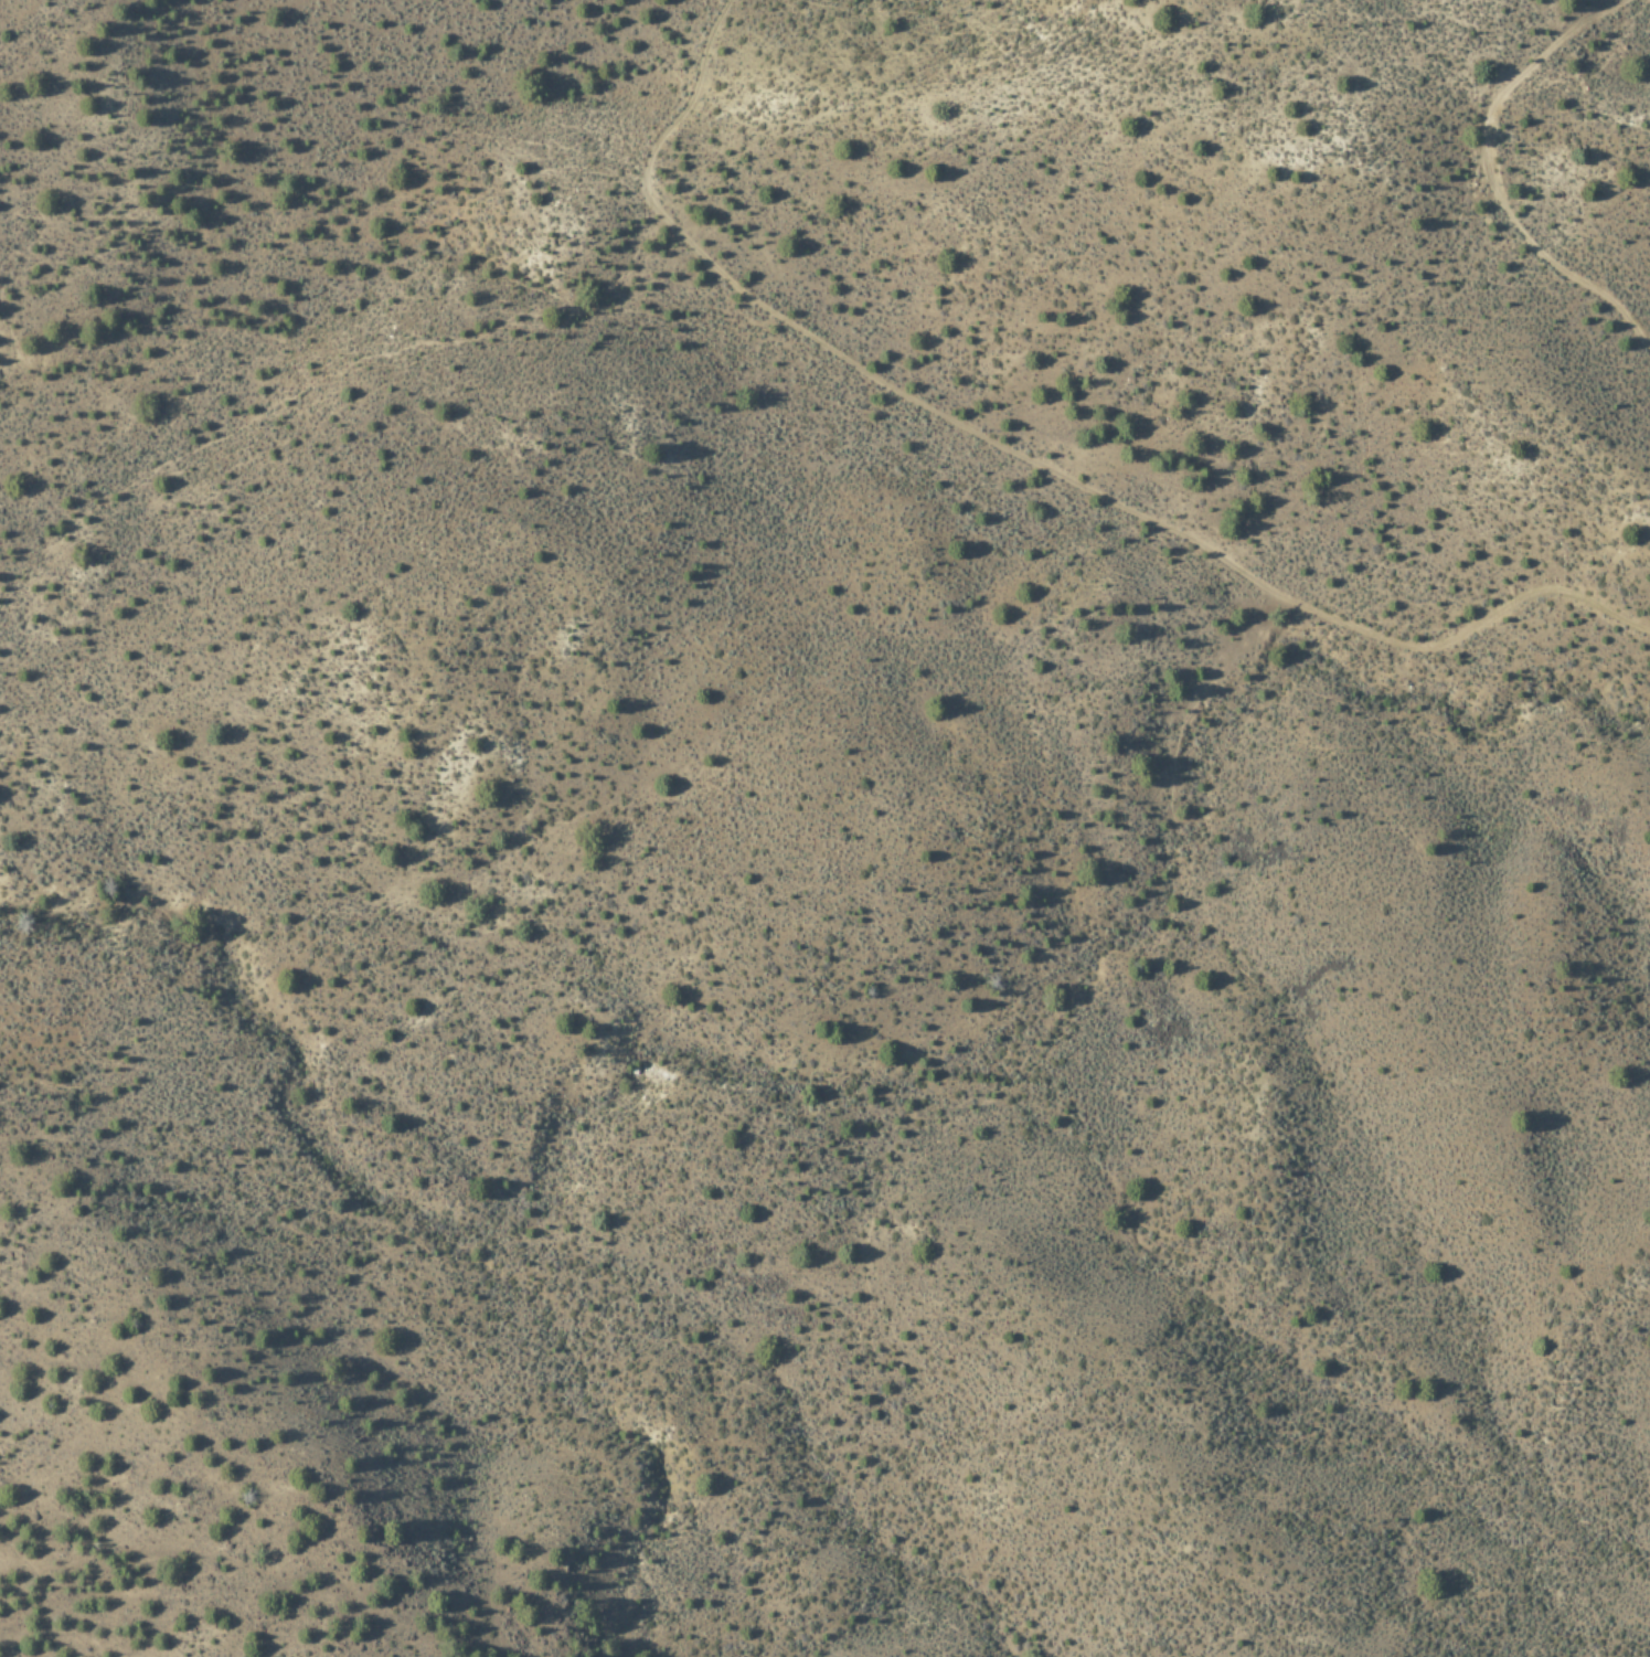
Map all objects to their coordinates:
road: (1510, 130)
road: (1052, 405)

